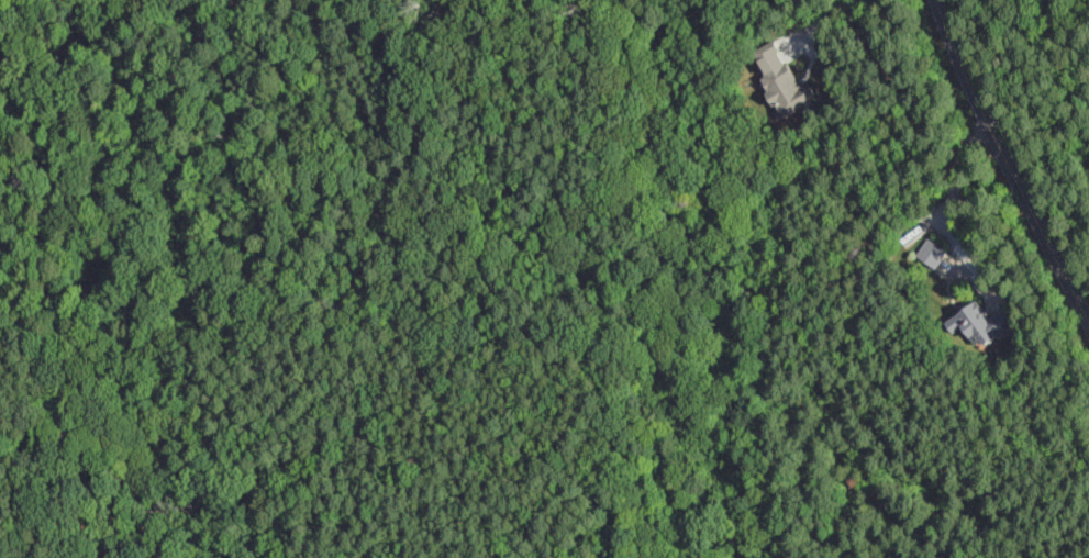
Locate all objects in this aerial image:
road: (827, 21)
building: (784, 81)
park: (1040, 101)
road: (1009, 161)
road: (952, 217)
building: (933, 252)
road: (947, 261)
road: (949, 290)
building: (982, 323)

